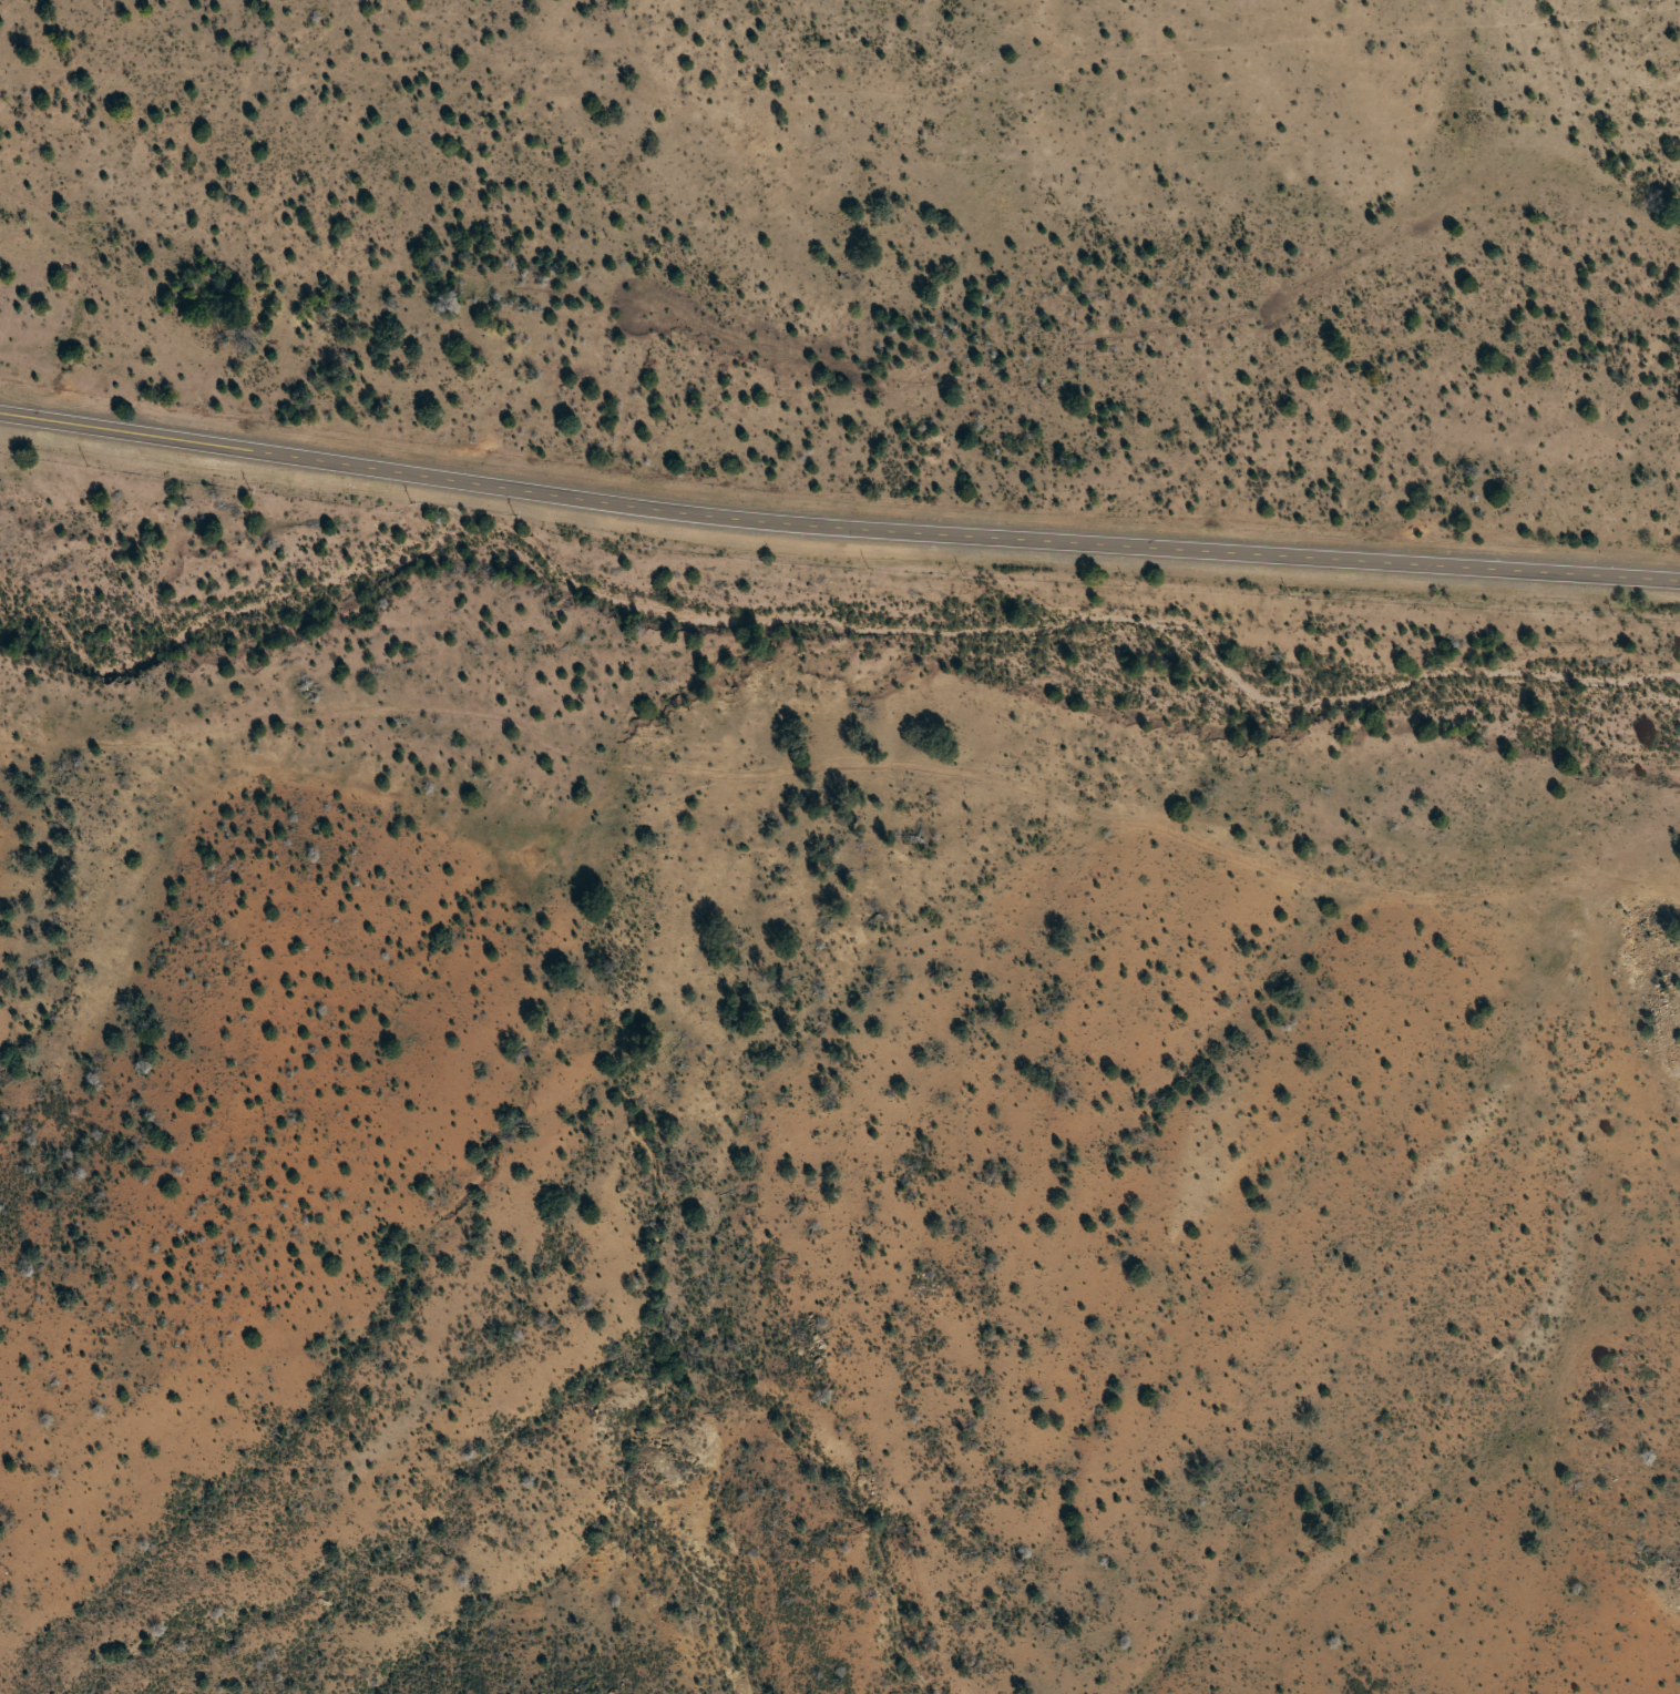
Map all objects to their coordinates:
road: (836, 530)

